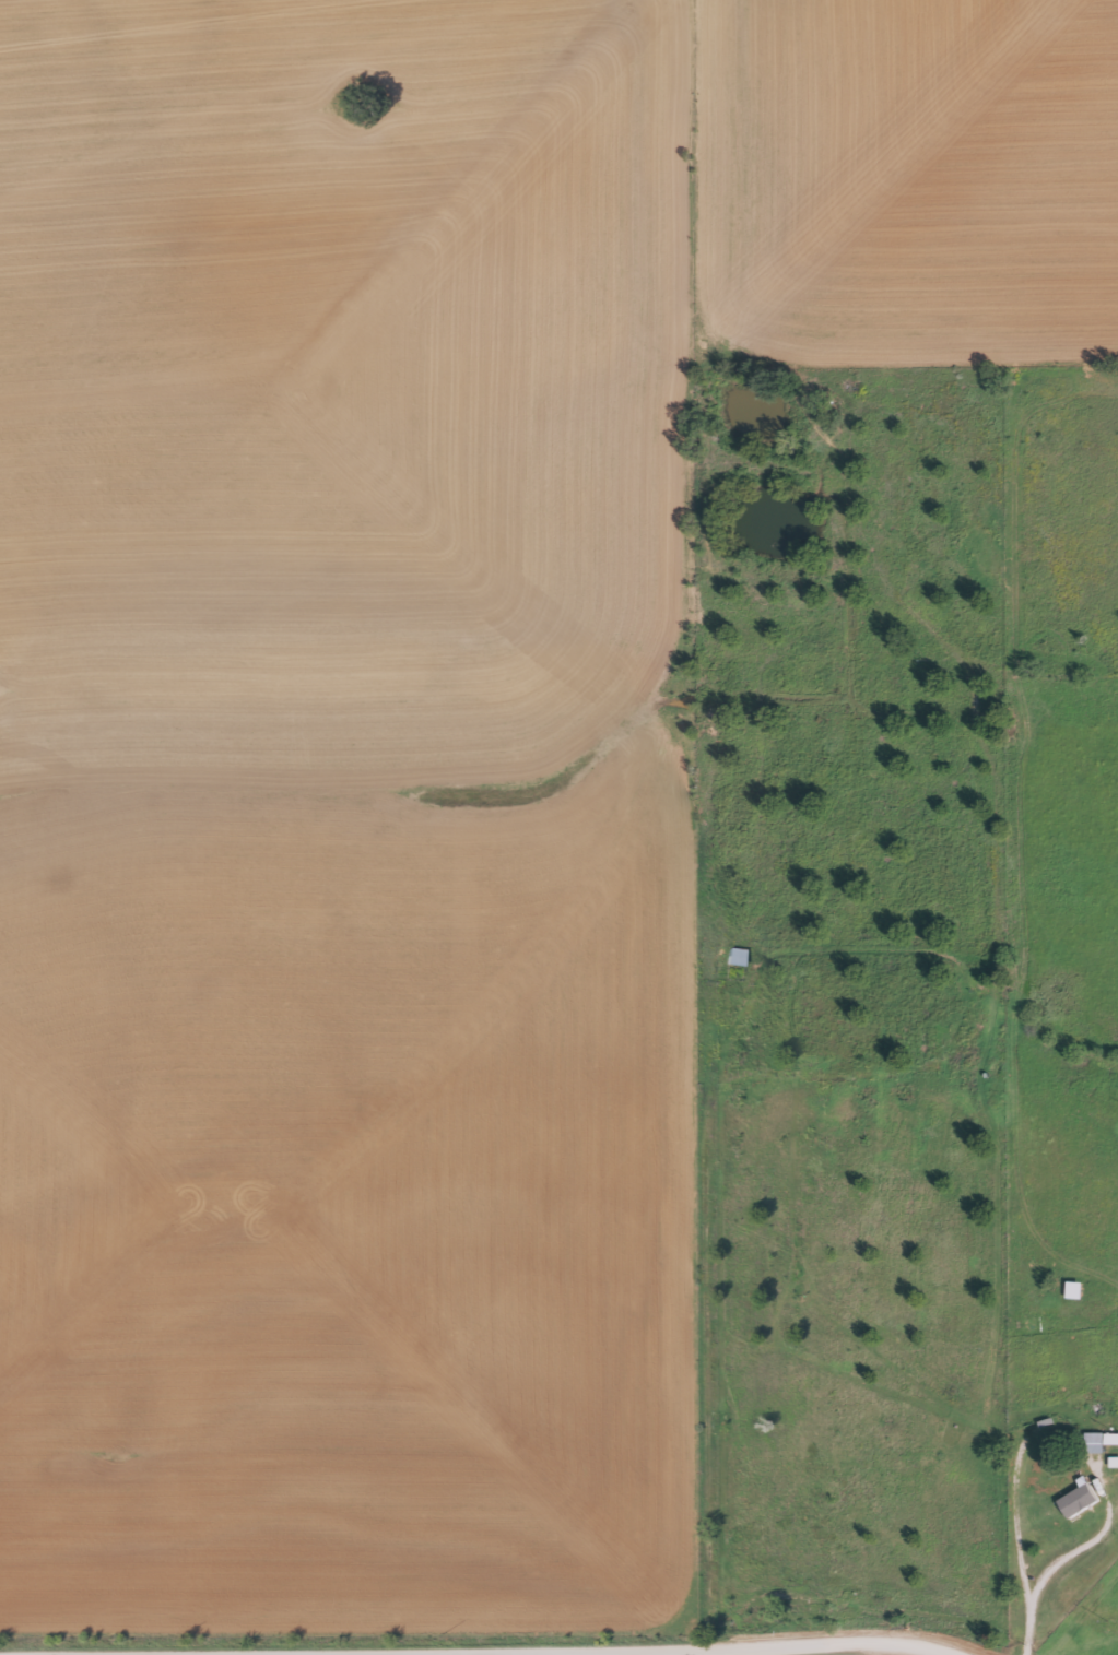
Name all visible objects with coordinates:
building: (1099, 1439)
building: (1074, 1501)
road: (1023, 1595)
road: (676, 1648)

